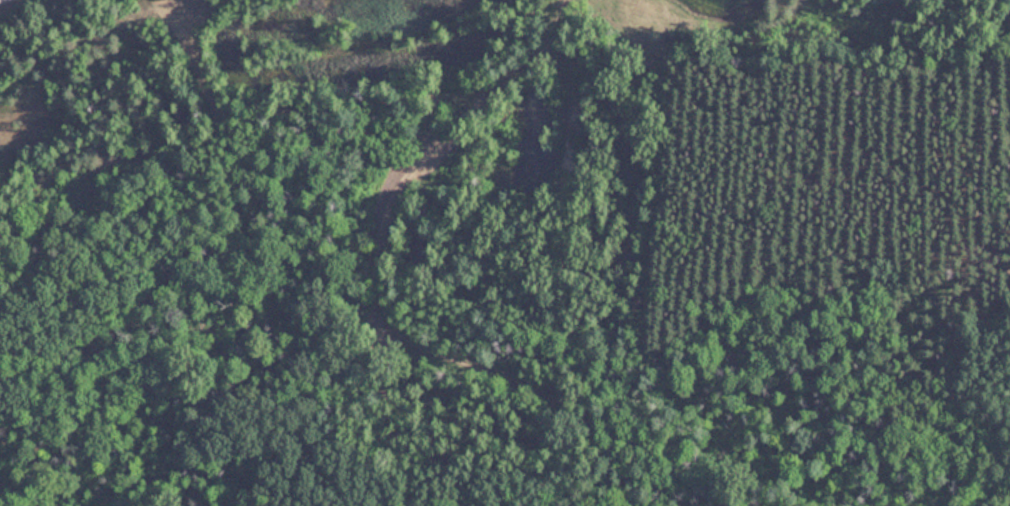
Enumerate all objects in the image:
railway: (5, 1)

